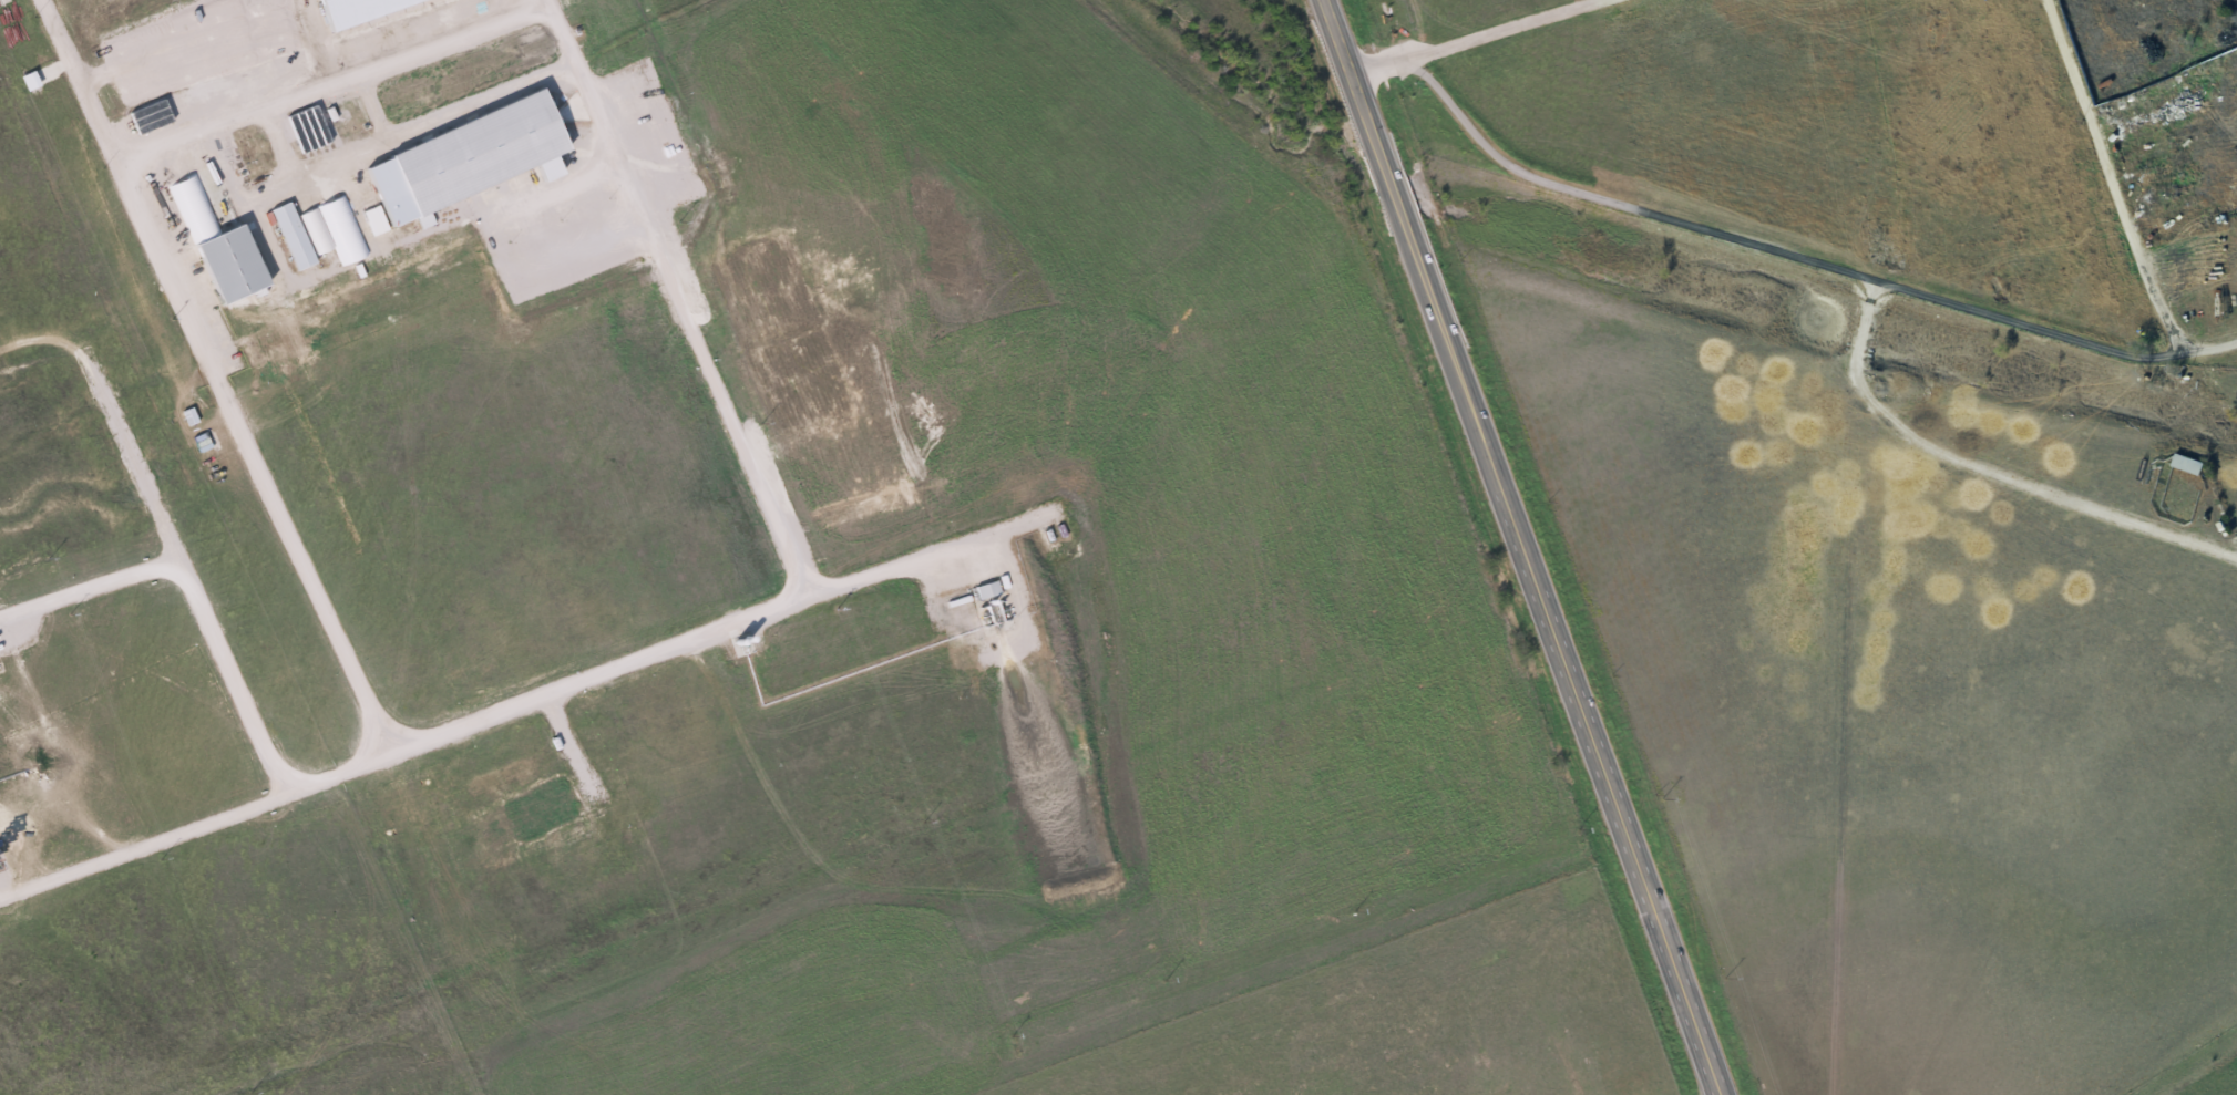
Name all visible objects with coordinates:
building: (350, 9)
road: (1471, 37)
road: (1352, 76)
road: (328, 80)
road: (478, 97)
building: (148, 115)
road: (277, 140)
building: (458, 161)
road: (299, 173)
road: (545, 176)
road: (2117, 204)
building: (317, 228)
building: (290, 236)
building: (214, 244)
road: (1766, 246)
building: (382, 252)
road: (673, 298)
building: (2186, 465)
road: (1983, 468)
building: (985, 589)
road: (1551, 623)
road: (353, 682)

